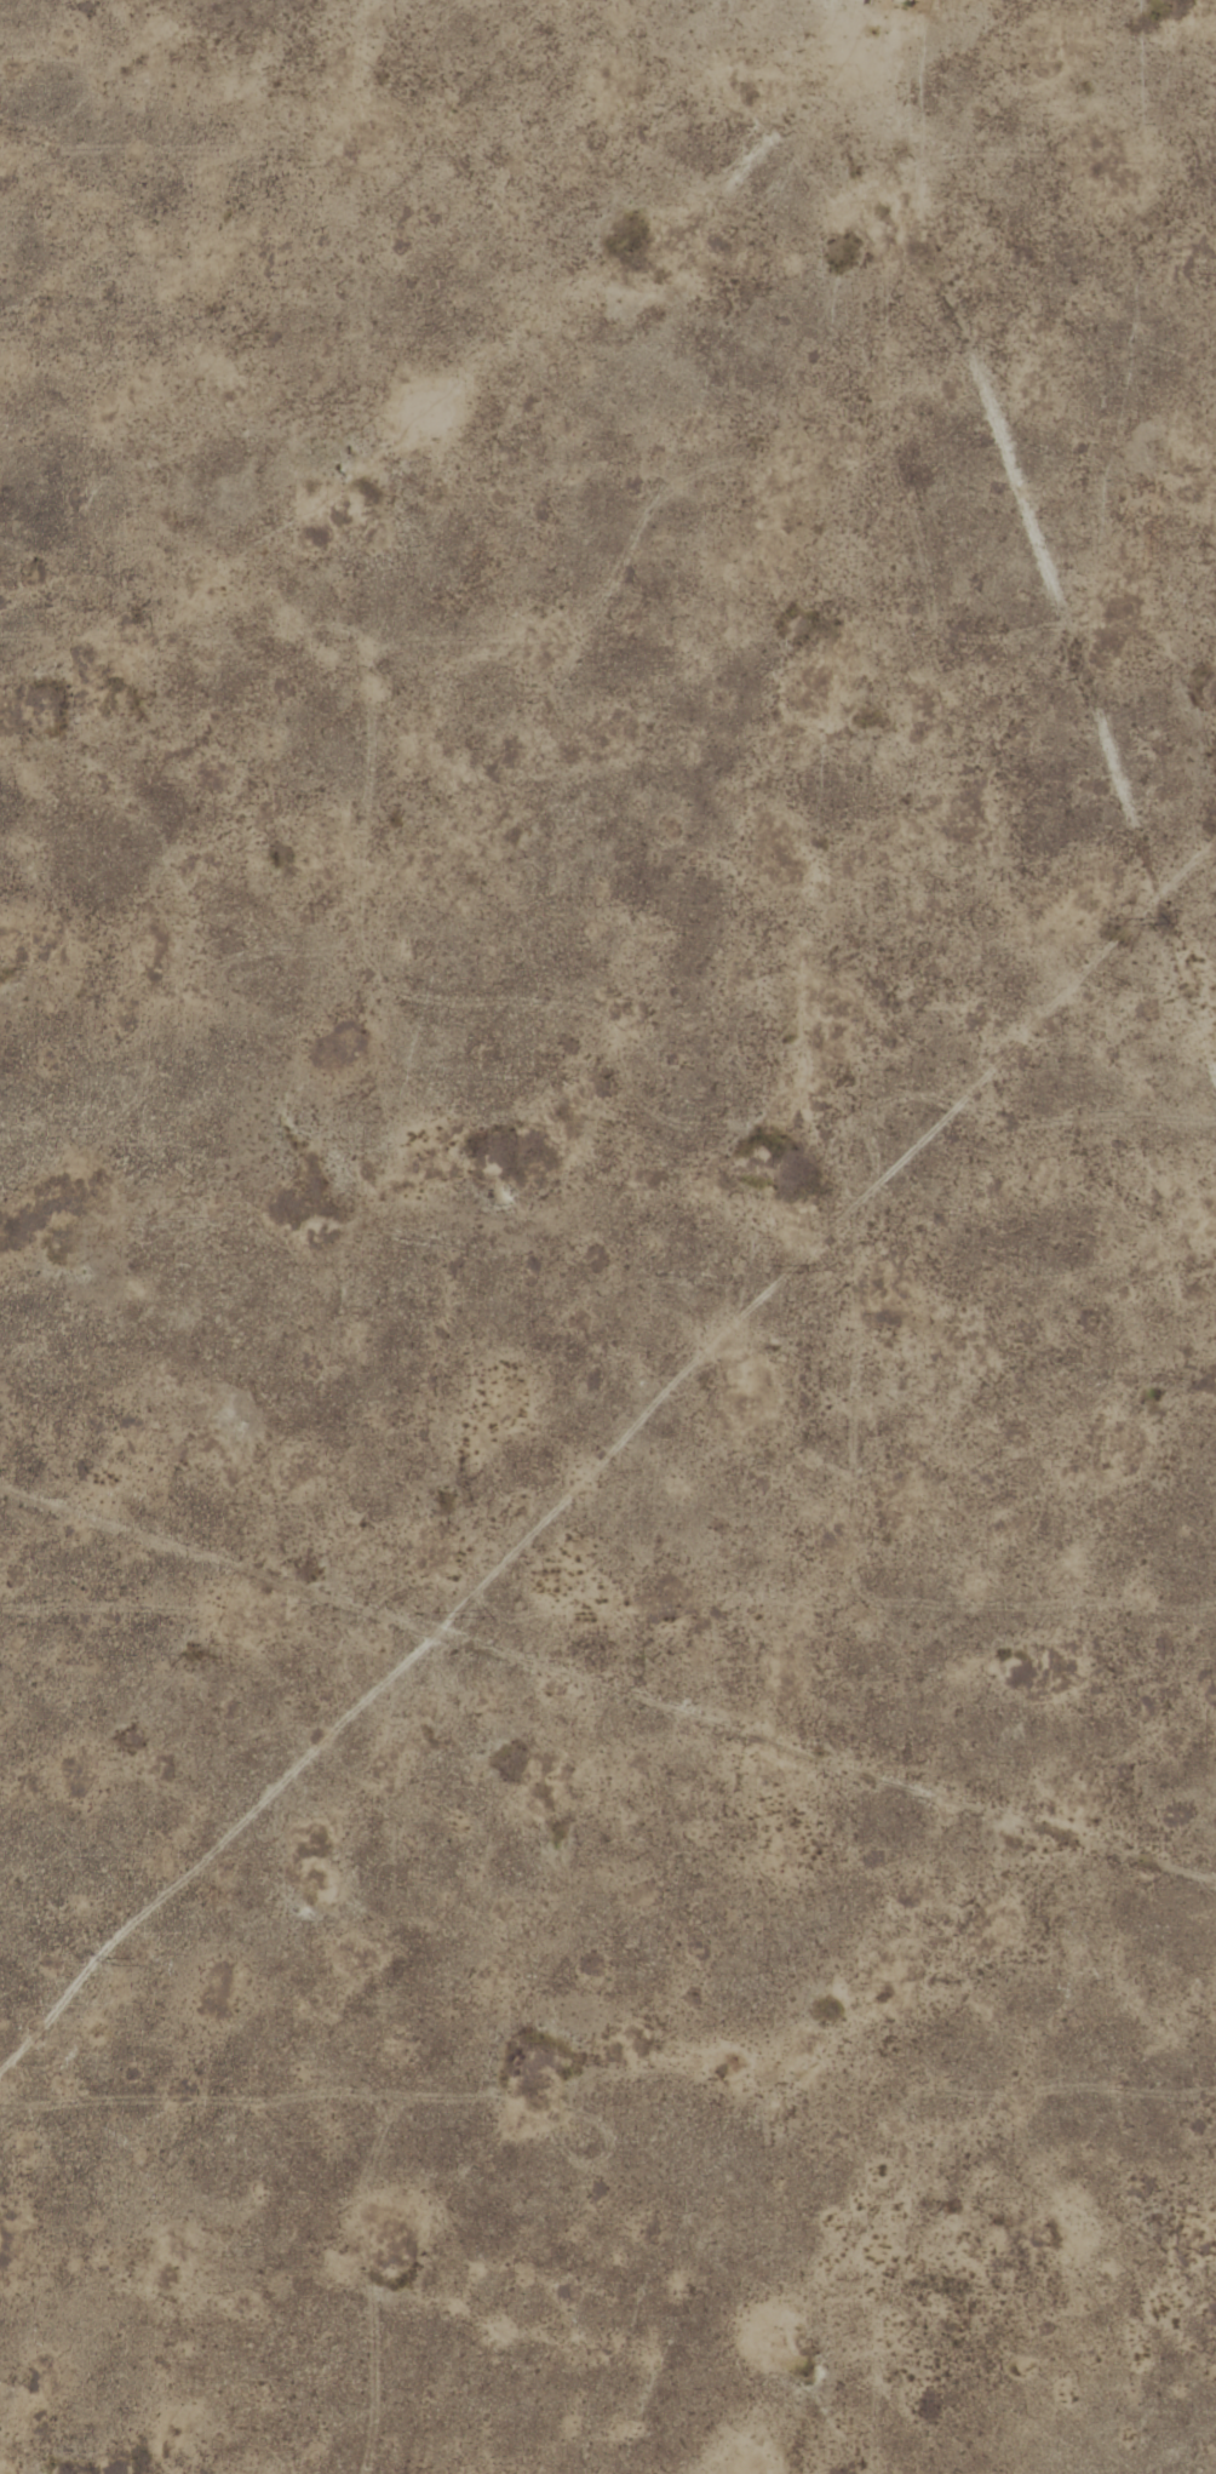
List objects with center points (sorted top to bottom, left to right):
road: (1109, 588)

